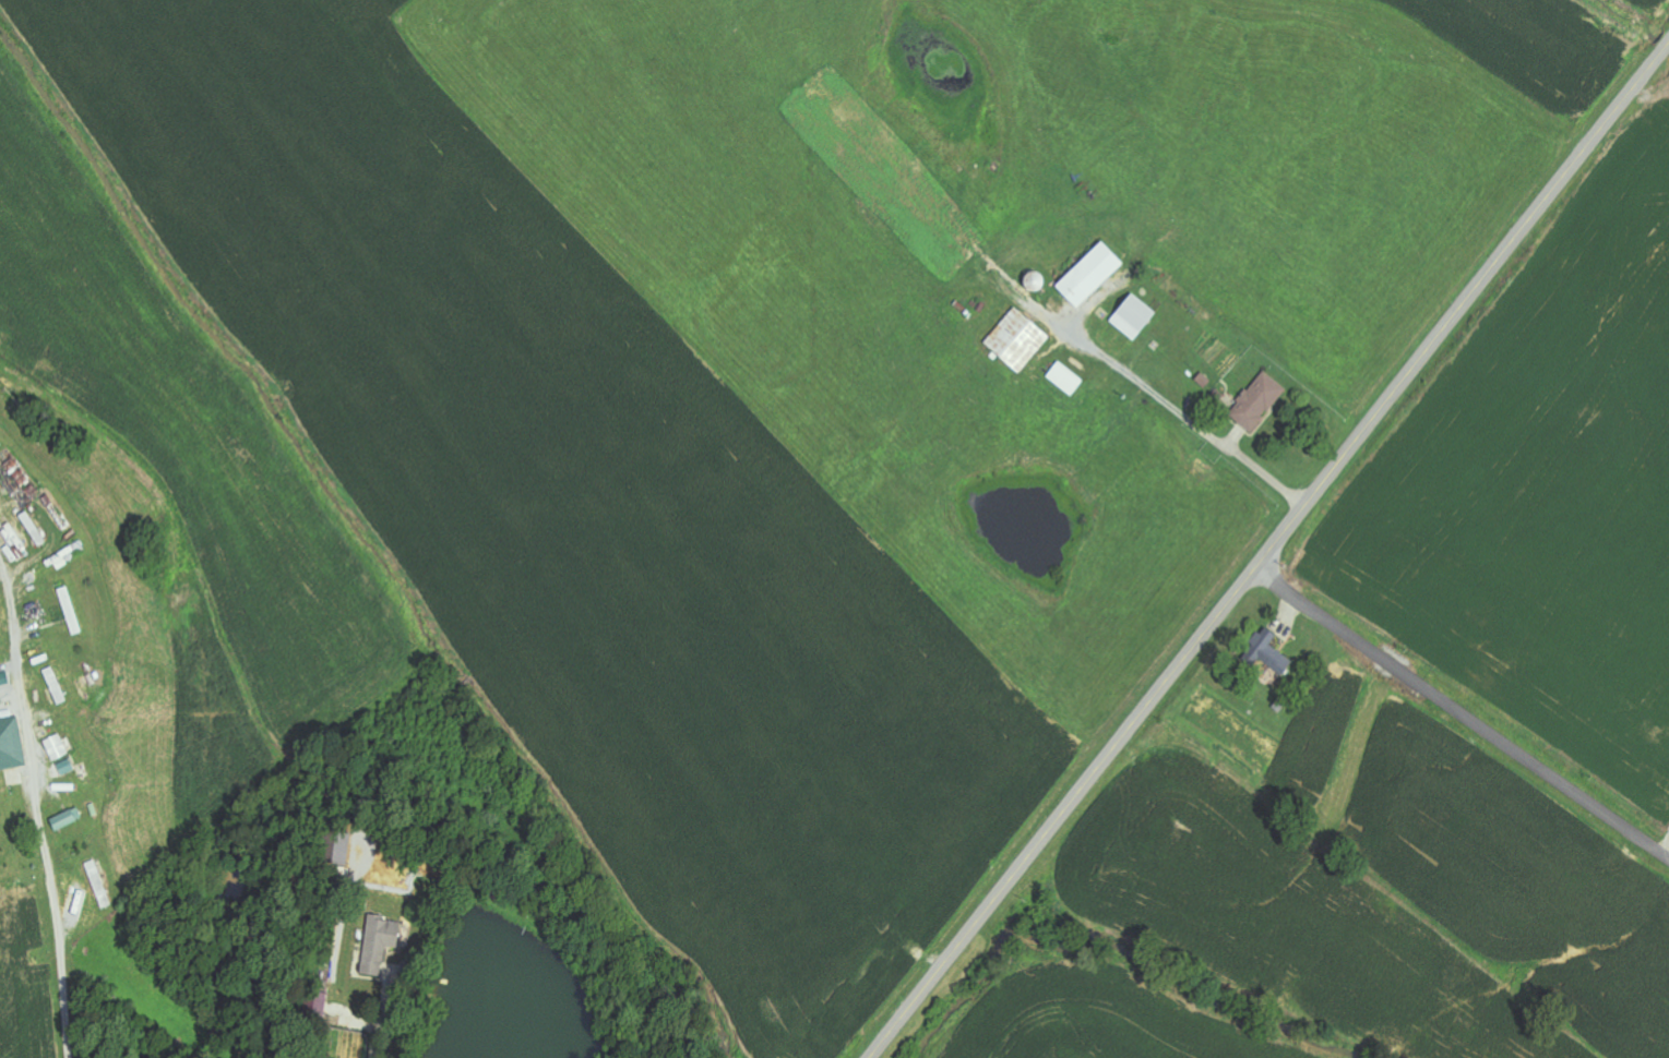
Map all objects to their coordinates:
building: (1093, 274)
building: (1135, 316)
building: (1018, 340)
building: (1066, 378)
building: (1259, 401)
road: (1271, 551)
building: (1271, 651)
building: (57, 686)
road: (1463, 712)
building: (12, 745)
building: (58, 748)
building: (69, 819)
building: (78, 904)
road: (56, 924)
building: (382, 940)

